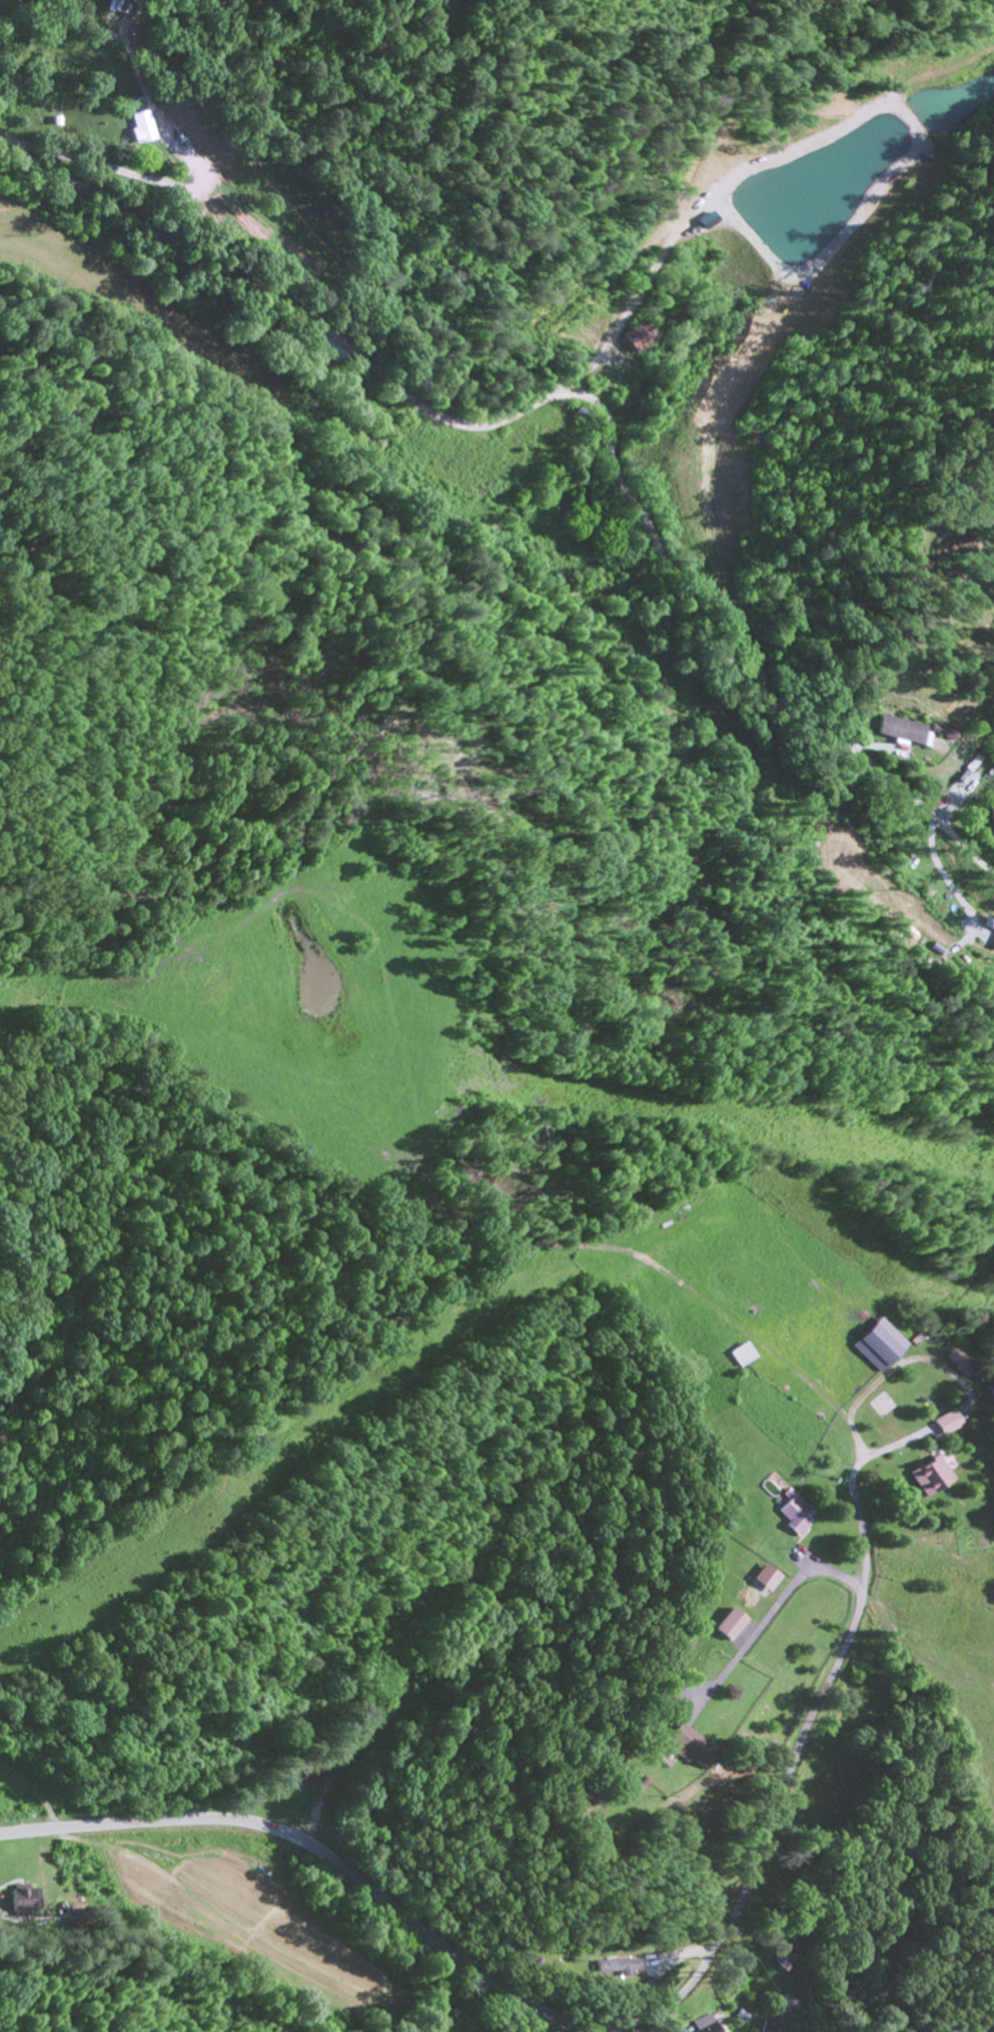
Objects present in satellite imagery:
building: (143, 128)
road: (450, 171)
road: (575, 395)
building: (580, 417)
building: (906, 733)
building: (993, 818)
building: (991, 925)
building: (745, 1356)
building: (961, 1365)
building: (950, 1424)
building: (935, 1479)
building: (798, 1517)
road: (863, 1546)
building: (733, 1626)
building: (697, 1747)
road: (760, 1841)
road: (317, 1851)
building: (21, 1902)
building: (627, 1969)
building: (709, 2025)

